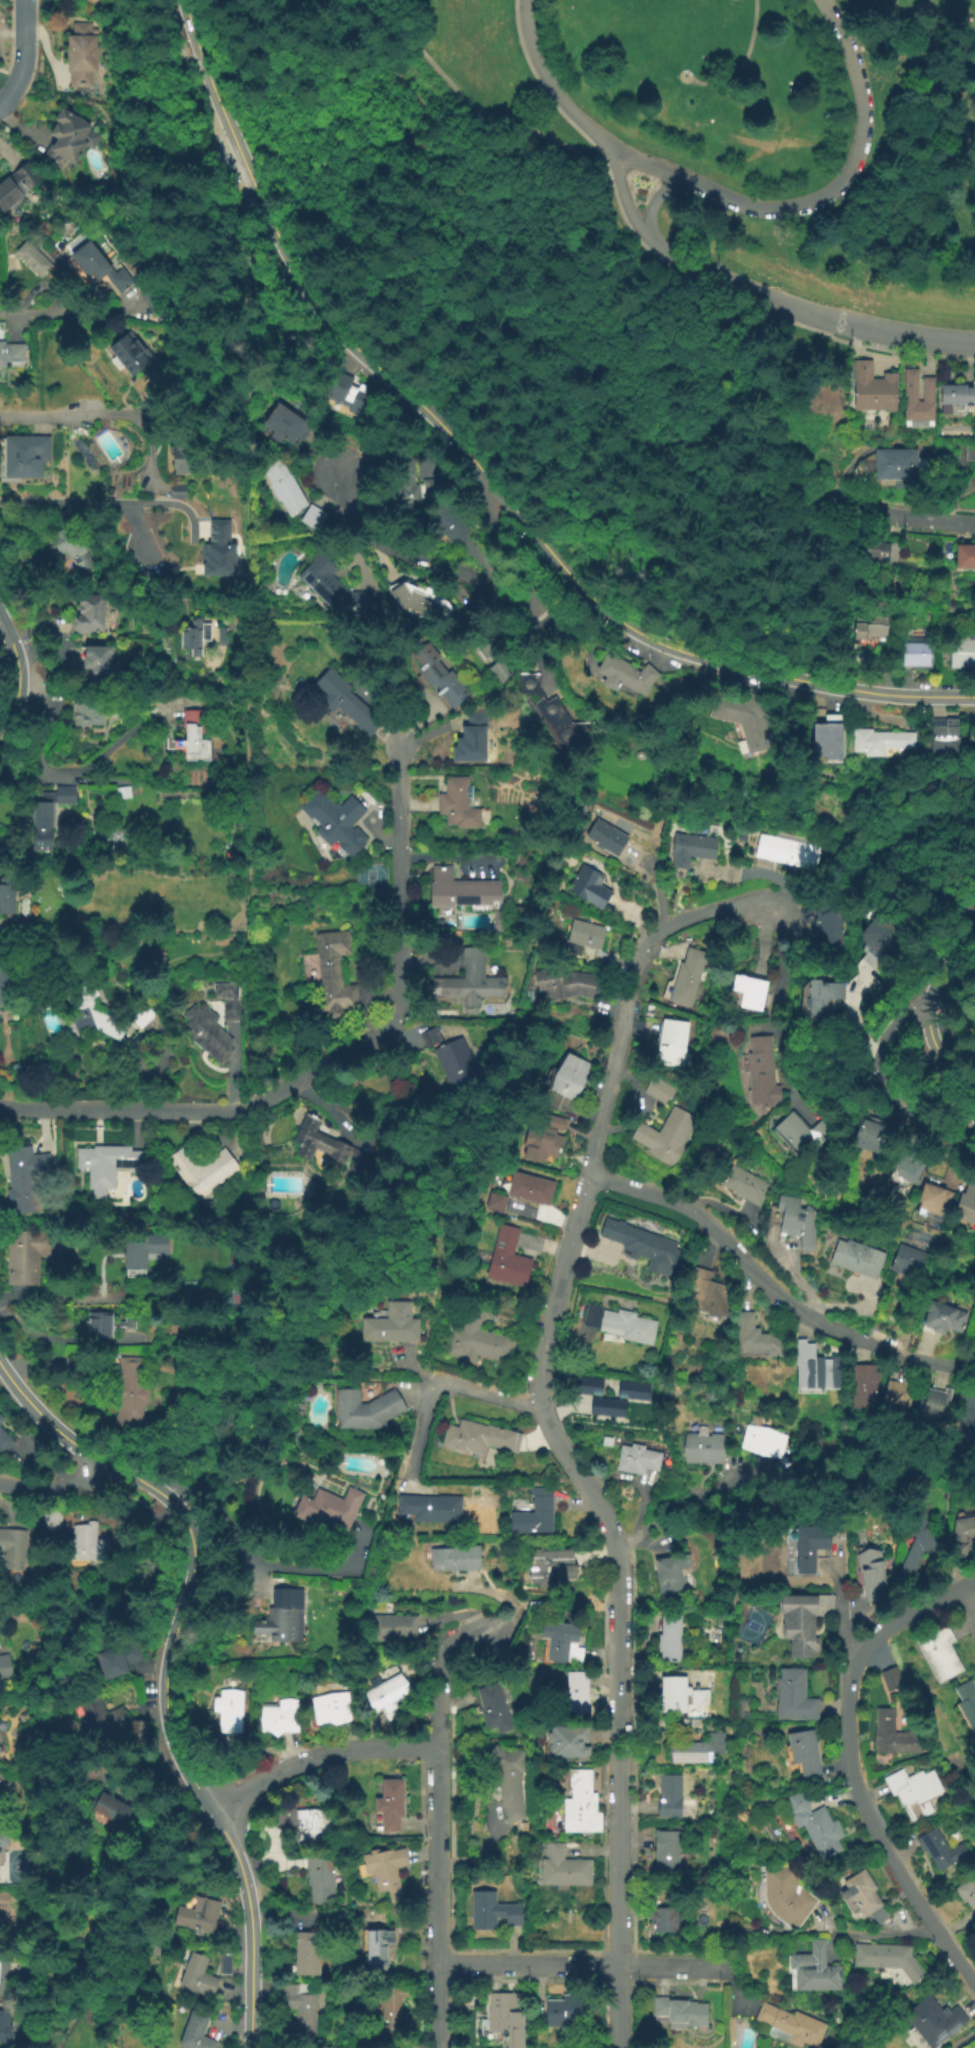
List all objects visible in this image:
road: (23, 55)
building: (80, 55)
road: (741, 61)
road: (542, 87)
road: (551, 87)
road: (473, 106)
building: (68, 139)
road: (467, 152)
road: (610, 156)
building: (16, 186)
road: (820, 194)
road: (624, 200)
road: (648, 203)
park: (639, 252)
building: (32, 259)
building: (98, 267)
building: (150, 296)
road: (757, 307)
road: (807, 308)
road: (68, 314)
building: (12, 354)
building: (129, 358)
building: (875, 394)
building: (952, 395)
building: (350, 396)
building: (919, 398)
road: (100, 416)
building: (286, 425)
building: (971, 453)
building: (24, 457)
building: (188, 460)
building: (903, 464)
road: (483, 471)
building: (410, 485)
building: (283, 488)
building: (177, 489)
road: (109, 502)
road: (899, 516)
building: (312, 518)
building: (446, 524)
road: (138, 535)
building: (72, 547)
building: (876, 548)
building: (222, 550)
building: (967, 555)
road: (476, 564)
road: (485, 583)
building: (334, 590)
building: (422, 603)
building: (88, 615)
building: (870, 628)
building: (481, 635)
building: (194, 637)
building: (224, 637)
road: (246, 650)
building: (962, 653)
building: (915, 654)
building: (97, 660)
building: (497, 673)
building: (625, 676)
road: (17, 677)
building: (437, 677)
building: (344, 703)
road: (50, 705)
building: (87, 715)
building: (558, 718)
building: (747, 721)
road: (156, 725)
building: (971, 734)
building: (943, 736)
building: (192, 737)
building: (829, 740)
building: (880, 741)
building: (471, 742)
road: (94, 759)
building: (65, 797)
building: (457, 805)
building: (334, 823)
building: (41, 827)
building: (606, 836)
building: (691, 849)
building: (788, 850)
road: (760, 869)
road: (755, 875)
park: (369, 876)
building: (589, 888)
building: (460, 891)
building: (7, 901)
building: (945, 904)
building: (498, 920)
building: (826, 926)
building: (879, 934)
building: (582, 938)
building: (225, 939)
road: (764, 940)
building: (8, 963)
building: (333, 976)
building: (685, 979)
building: (469, 983)
building: (562, 984)
building: (749, 993)
road: (925, 998)
building: (821, 999)
building: (228, 1002)
building: (100, 1012)
road: (773, 1013)
building: (206, 1033)
road: (867, 1038)
building: (430, 1039)
road: (955, 1044)
building: (672, 1046)
road: (332, 1058)
building: (456, 1066)
building: (760, 1074)
building: (569, 1078)
building: (658, 1091)
road: (886, 1092)
building: (972, 1119)
building: (800, 1133)
building: (666, 1137)
building: (542, 1141)
building: (874, 1141)
building: (325, 1148)
building: (910, 1164)
building: (107, 1167)
building: (203, 1172)
building: (23, 1177)
building: (262, 1183)
road: (586, 1183)
building: (743, 1185)
building: (529, 1190)
building: (495, 1204)
building: (933, 1205)
building: (966, 1207)
building: (796, 1222)
building: (644, 1249)
building: (143, 1251)
building: (23, 1257)
building: (857, 1259)
building: (507, 1261)
building: (908, 1262)
road: (772, 1287)
building: (705, 1296)
road: (80, 1299)
park: (232, 1300)
road: (807, 1304)
building: (942, 1319)
building: (620, 1325)
building: (106, 1326)
building: (388, 1332)
building: (754, 1340)
road: (68, 1342)
building: (476, 1342)
building: (815, 1371)
road: (441, 1383)
building: (864, 1387)
building: (632, 1389)
building: (898, 1395)
building: (130, 1396)
building: (603, 1396)
building: (933, 1405)
building: (300, 1411)
building: (365, 1411)
building: (1, 1417)
building: (965, 1418)
road: (46, 1420)
building: (1, 1421)
building: (479, 1439)
building: (762, 1440)
building: (4, 1443)
building: (702, 1449)
building: (636, 1460)
road: (56, 1487)
road: (681, 1502)
building: (328, 1509)
building: (430, 1509)
road: (639, 1511)
building: (534, 1514)
building: (51, 1524)
building: (962, 1536)
building: (87, 1545)
building: (807, 1546)
building: (12, 1551)
building: (915, 1554)
building: (454, 1560)
road: (260, 1561)
building: (550, 1569)
road: (255, 1576)
building: (669, 1576)
building: (870, 1576)
road: (973, 1590)
road: (504, 1598)
road: (839, 1610)
road: (460, 1615)
road: (181, 1616)
building: (280, 1619)
park: (750, 1622)
building: (799, 1626)
building: (393, 1628)
building: (668, 1641)
road: (446, 1643)
building: (561, 1645)
building: (938, 1653)
building: (117, 1660)
building: (5, 1667)
building: (890, 1680)
building: (576, 1695)
building: (386, 1697)
building: (680, 1698)
building: (793, 1698)
building: (966, 1705)
building: (492, 1709)
building: (330, 1710)
building: (228, 1713)
building: (279, 1717)
building: (25, 1718)
building: (101, 1718)
road: (436, 1719)
building: (694, 1725)
building: (137, 1728)
building: (892, 1737)
building: (567, 1744)
building: (694, 1751)
road: (421, 1755)
building: (802, 1756)
road: (317, 1757)
road: (429, 1763)
road: (849, 1766)
building: (508, 1783)
building: (913, 1793)
road: (620, 1795)
building: (668, 1797)
building: (389, 1806)
building: (112, 1807)
building: (579, 1807)
building: (814, 1828)
building: (310, 1829)
building: (3, 1838)
building: (939, 1851)
building: (664, 1854)
building: (383, 1869)
building: (563, 1870)
building: (320, 1879)
building: (966, 1894)
road: (437, 1897)
building: (785, 1898)
building: (862, 1899)
road: (421, 1905)
building: (491, 1913)
building: (5, 1915)
building: (197, 1916)
road: (247, 1922)
building: (662, 1922)
road: (886, 1937)
building: (377, 1949)
building: (306, 1954)
building: (886, 1960)
building: (224, 1965)
road: (580, 1965)
building: (2, 1967)
building: (812, 1970)
building: (196, 1977)
building: (5, 1987)
road: (732, 1989)
building: (301, 2009)
building: (391, 2011)
building: (570, 2011)
building: (678, 2013)
building: (505, 2019)
building: (933, 2022)
building: (4, 2027)
building: (790, 2027)
building: (195, 2033)
road: (964, 2041)

